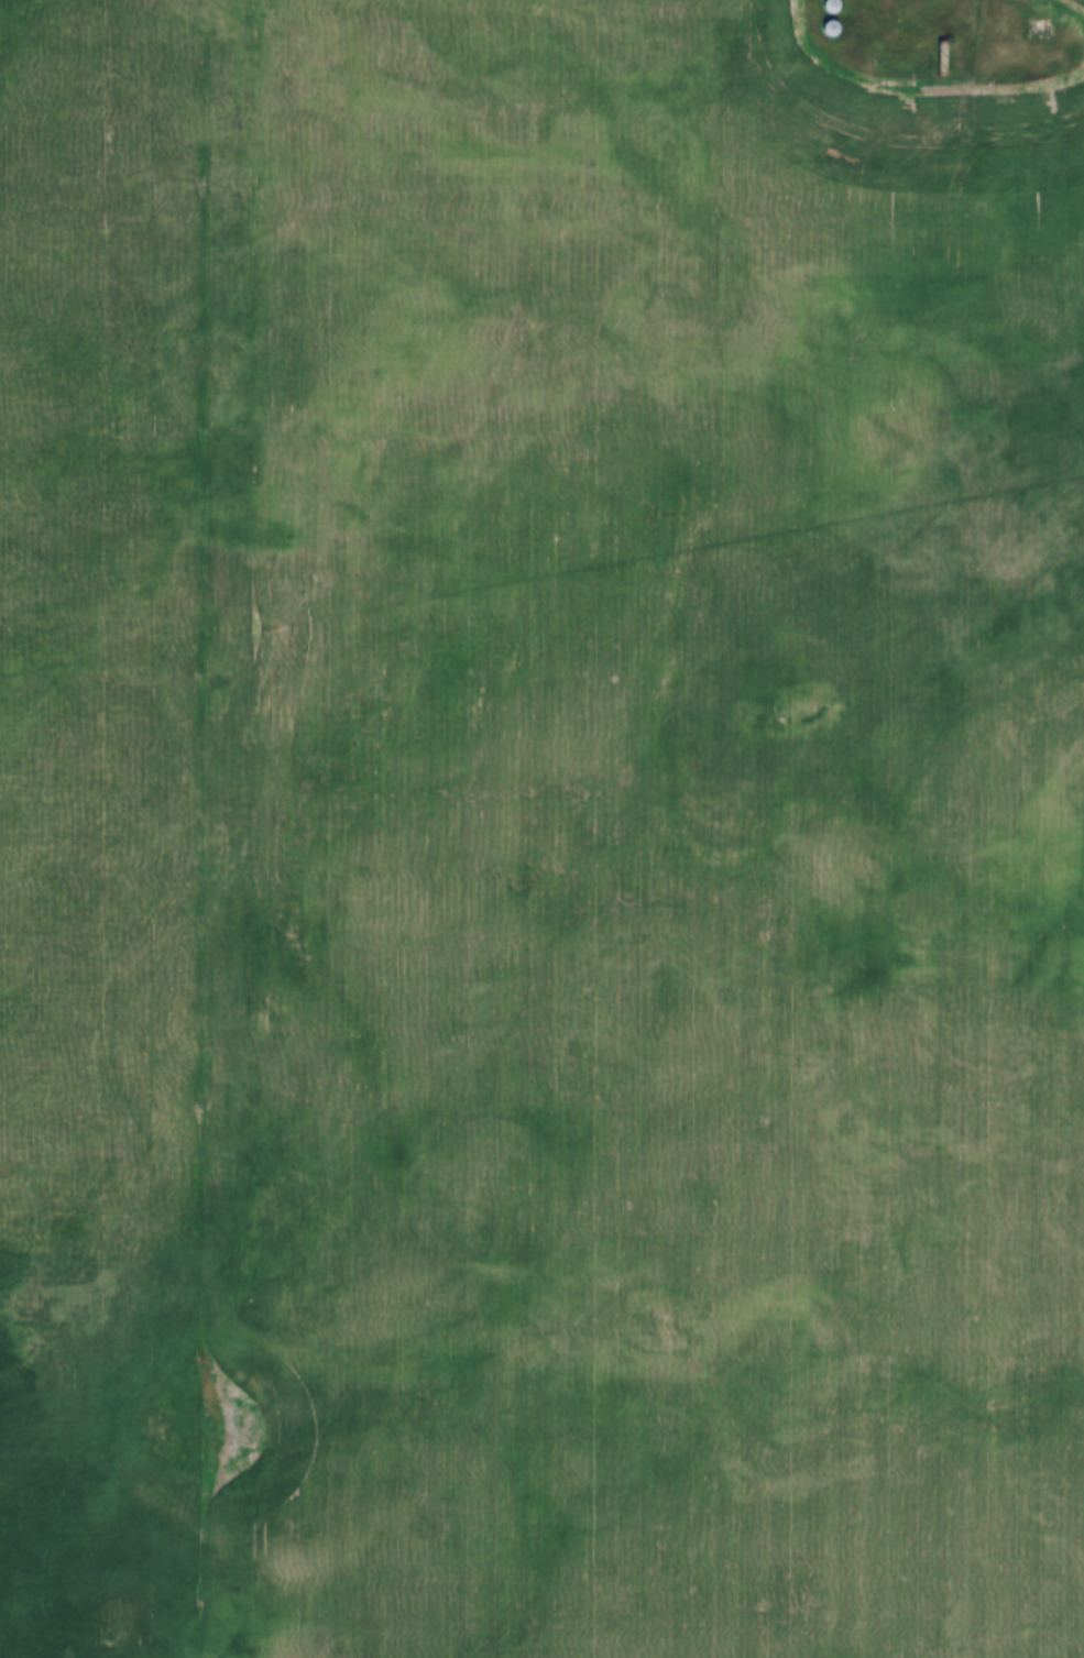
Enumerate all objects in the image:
building: (826, 29)

